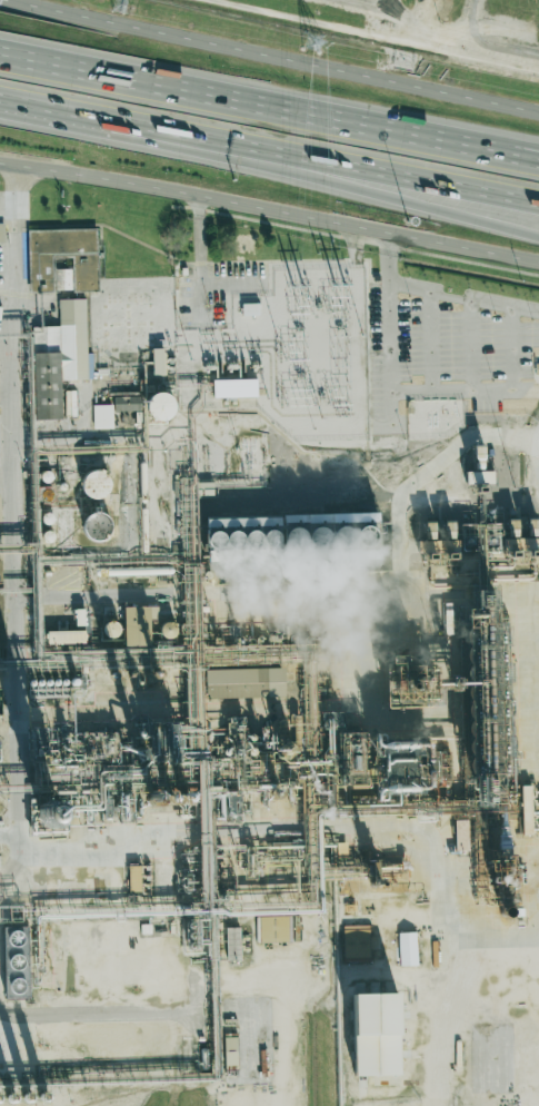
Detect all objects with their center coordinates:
power tower: (121, 3)
power tower: (312, 43)
road: (488, 45)
road: (271, 58)
road: (269, 108)
road: (89, 118)
road: (359, 170)
road: (359, 185)
road: (269, 208)
building: (62, 259)
road: (279, 282)
road: (389, 326)
road: (8, 338)
road: (510, 345)
power substation: (288, 356)
building: (60, 357)
building: (233, 387)
road: (525, 388)
road: (4, 394)
building: (126, 403)
road: (267, 405)
building: (160, 406)
building: (102, 416)
road: (533, 431)
road: (533, 453)
road: (6, 474)
road: (420, 475)
building: (96, 484)
building: (97, 526)
building: (292, 537)
building: (479, 549)
road: (207, 595)
building: (137, 625)
building: (66, 636)
building: (244, 682)
road: (18, 683)
building: (529, 808)
road: (339, 831)
building: (461, 835)
road: (10, 837)
building: (134, 878)
road: (164, 922)
building: (276, 929)
road: (501, 934)
building: (356, 941)
building: (232, 944)
building: (16, 961)
road: (457, 1019)
building: (375, 1034)
building: (230, 1053)

